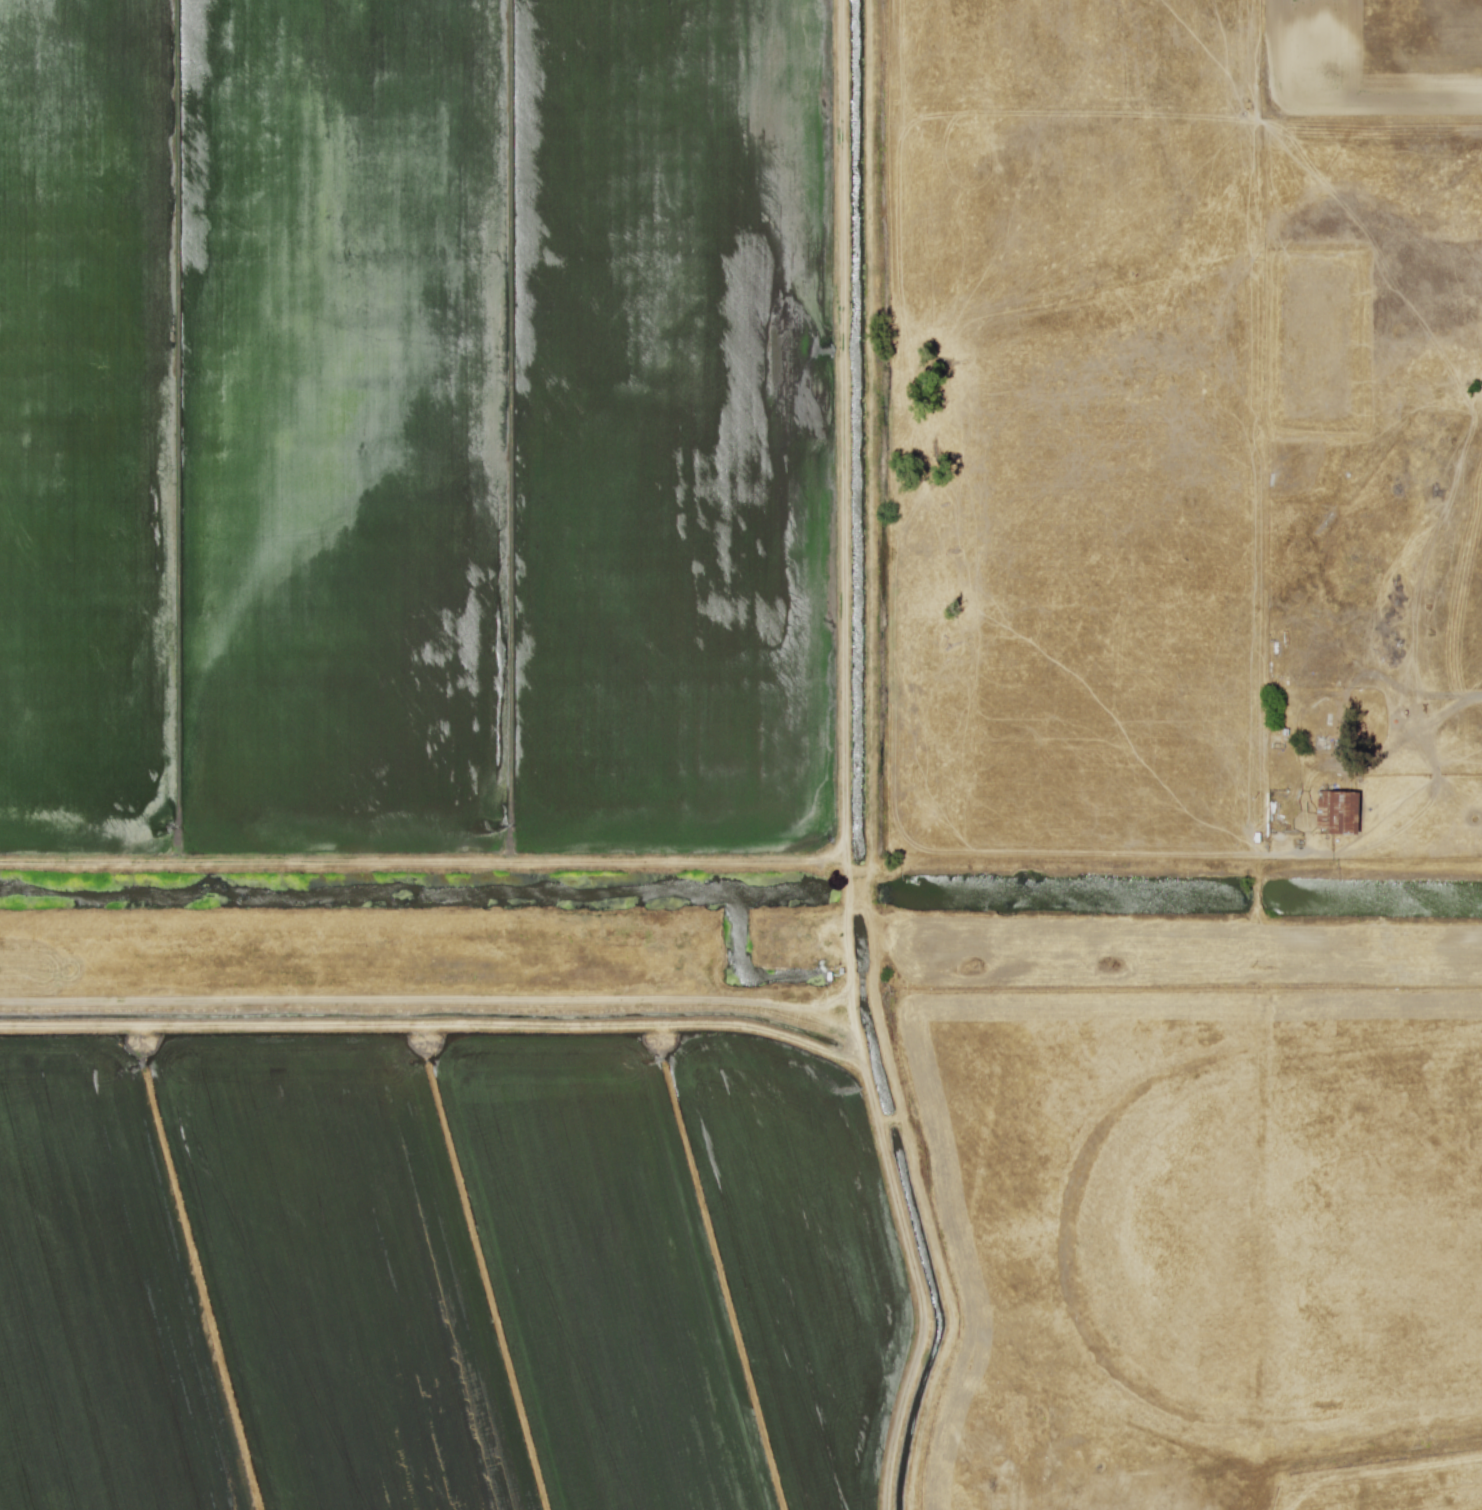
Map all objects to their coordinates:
road: (1424, 691)
road: (1429, 720)
building: (1342, 812)

